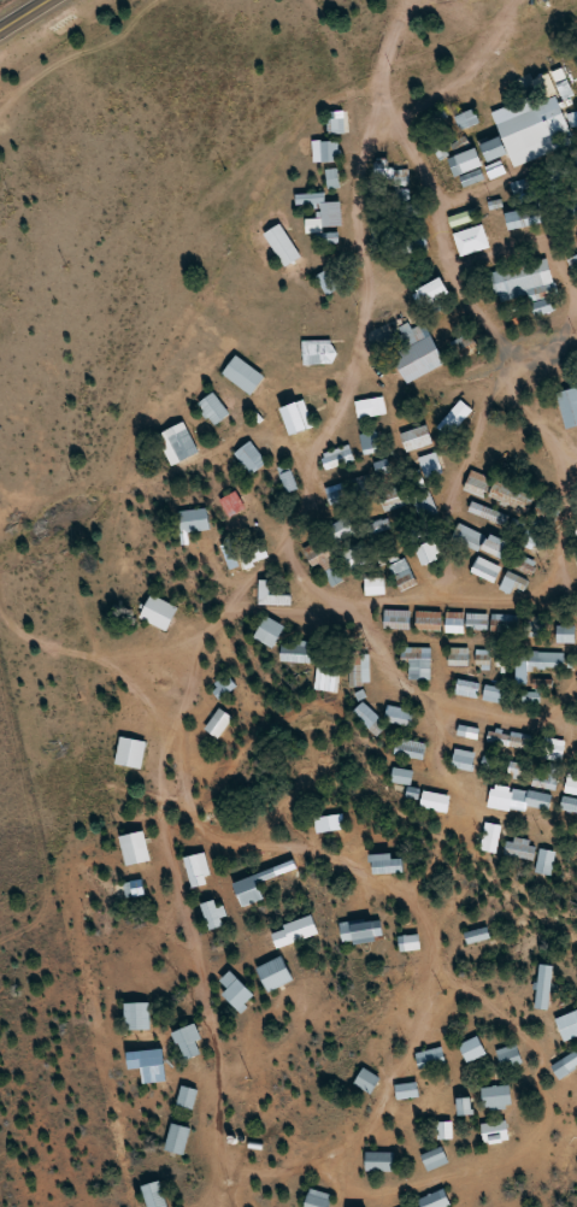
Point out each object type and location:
road: (17, 11)
building: (466, 119)
building: (335, 125)
building: (531, 125)
building: (329, 151)
building: (467, 160)
building: (402, 177)
building: (519, 187)
building: (320, 211)
building: (522, 217)
building: (461, 218)
building: (331, 237)
building: (471, 240)
building: (282, 245)
building: (573, 265)
road: (342, 275)
building: (522, 281)
building: (326, 282)
building: (430, 292)
building: (541, 306)
building: (318, 352)
building: (417, 353)
building: (243, 375)
building: (567, 406)
building: (370, 407)
building: (213, 408)
building: (454, 418)
building: (416, 438)
building: (370, 441)
building: (177, 443)
building: (337, 457)
building: (249, 458)
building: (430, 465)
building: (382, 469)
building: (287, 478)
building: (477, 484)
building: (511, 495)
building: (336, 496)
building: (390, 499)
building: (231, 504)
building: (425, 506)
building: (488, 513)
building: (193, 520)
building: (379, 526)
building: (342, 529)
building: (576, 532)
building: (530, 538)
building: (482, 542)
building: (253, 553)
building: (425, 554)
building: (387, 555)
building: (358, 559)
building: (324, 564)
building: (484, 570)
building: (405, 579)
building: (513, 583)
building: (373, 587)
building: (271, 594)
building: (158, 612)
building: (395, 619)
building: (428, 620)
building: (465, 622)
building: (504, 623)
building: (269, 631)
building: (565, 634)
building: (296, 653)
building: (457, 657)
building: (482, 659)
building: (530, 659)
building: (417, 663)
building: (359, 670)
road: (405, 679)
building: (223, 685)
building: (466, 689)
building: (491, 694)
road: (231, 714)
building: (398, 716)
building: (218, 724)
building: (466, 731)
building: (408, 748)
building: (553, 748)
building: (576, 748)
building: (461, 760)
building: (401, 777)
building: (544, 779)
building: (570, 783)
building: (499, 797)
building: (536, 800)
building: (434, 802)
building: (569, 805)
building: (489, 837)
building: (135, 849)
building: (519, 849)
building: (544, 861)
building: (385, 865)
building: (198, 871)
building: (249, 888)
building: (133, 889)
building: (211, 915)
building: (360, 932)
building: (476, 936)
building: (407, 943)
building: (272, 975)
building: (542, 988)
building: (234, 993)
building: (135, 1017)
building: (567, 1026)
building: (186, 1043)
building: (470, 1050)
building: (507, 1056)
building: (429, 1059)
building: (565, 1065)
building: (365, 1082)
building: (405, 1091)
building: (495, 1097)
building: (184, 1099)
building: (463, 1107)
building: (443, 1131)
building: (493, 1134)
building: (175, 1141)
building: (432, 1160)
building: (378, 1162)
building: (153, 1195)
building: (316, 1200)
building: (434, 1200)

